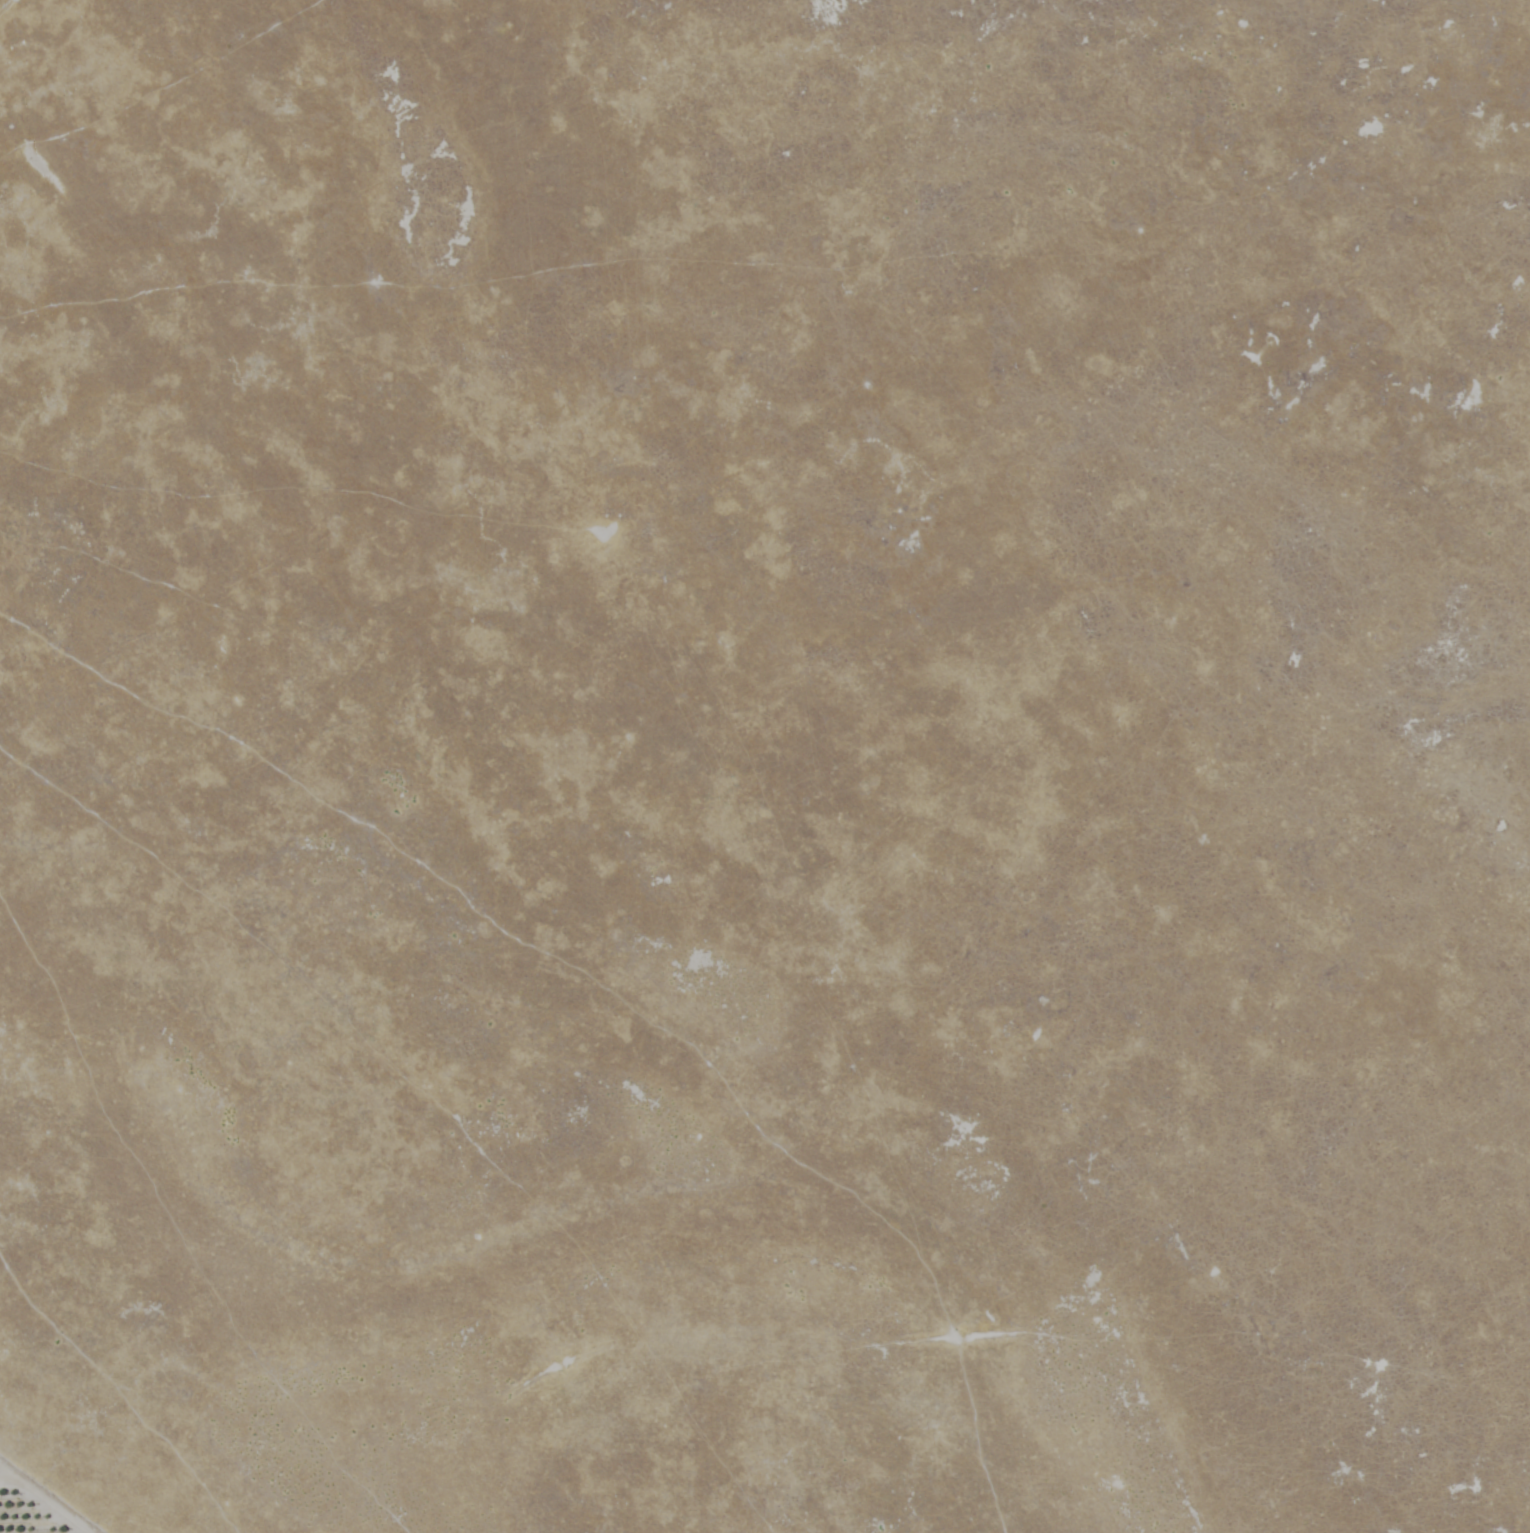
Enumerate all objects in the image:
crop: (33, 1508)

